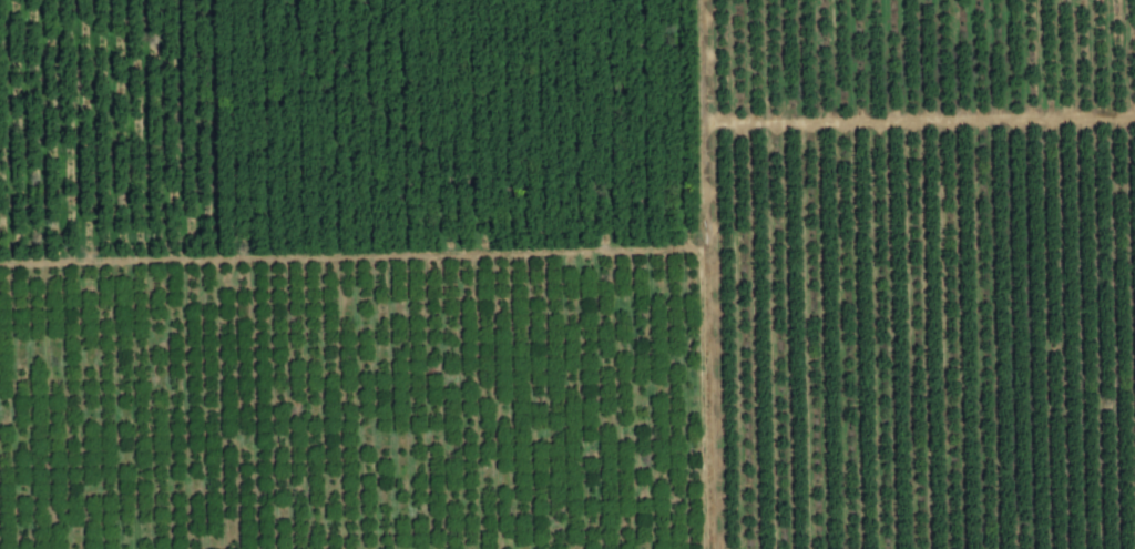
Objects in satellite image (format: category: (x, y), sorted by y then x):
wastewater plant: (815, 235)

